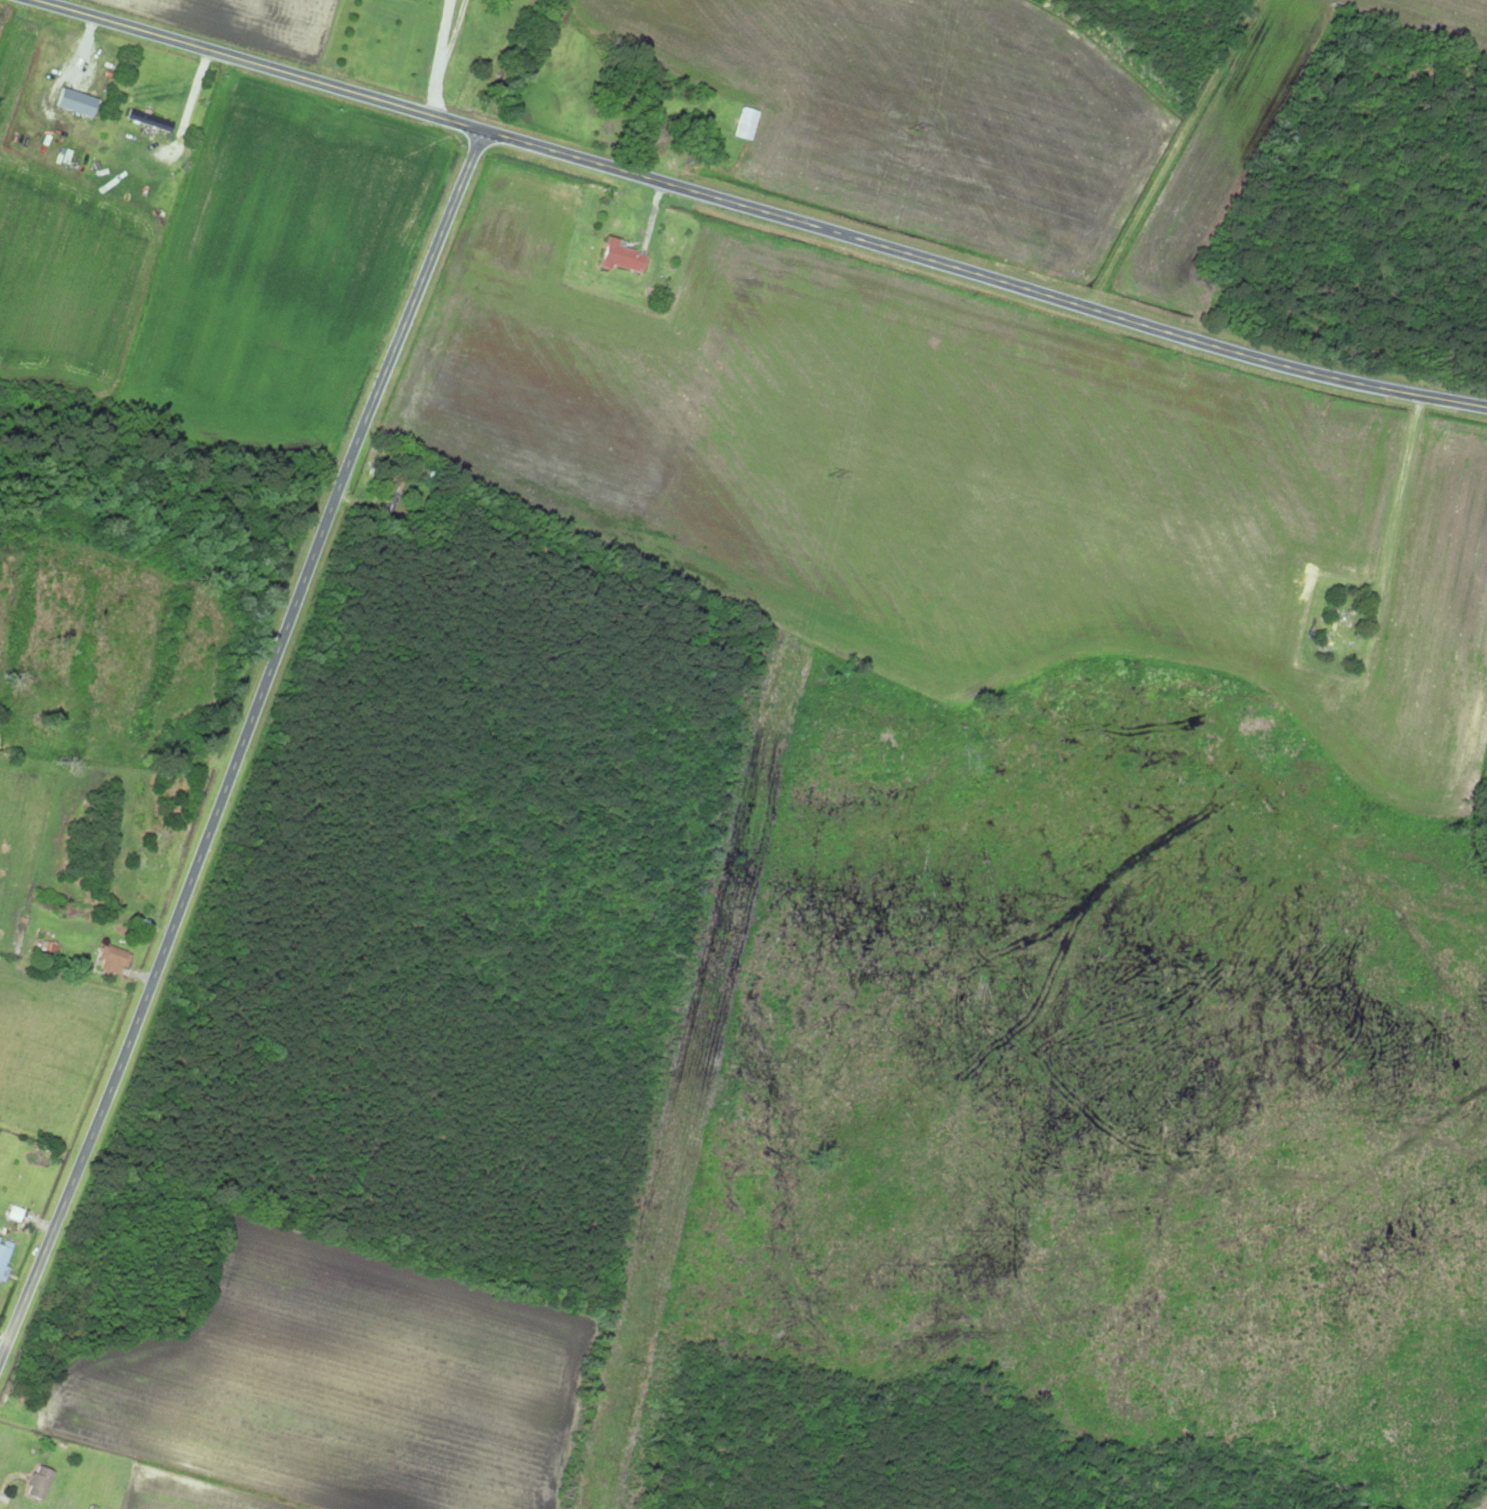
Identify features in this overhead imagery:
building: (148, 120)
power tower: (925, 123)
building: (745, 124)
road: (806, 212)
building: (619, 257)
power tower: (836, 477)
road: (228, 691)
power tower: (727, 932)
building: (111, 960)
building: (4, 1258)
power tower: (627, 1366)
building: (37, 1482)

